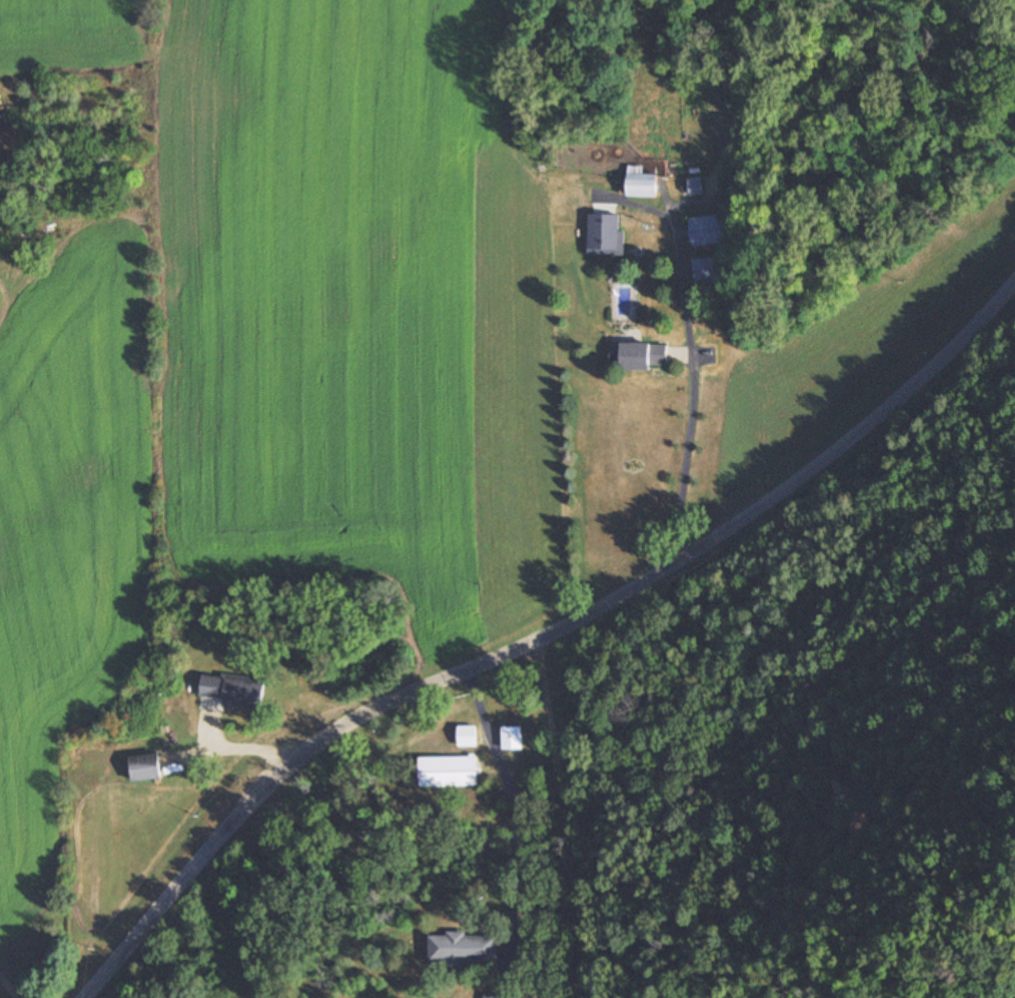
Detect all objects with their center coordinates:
building: (641, 183)
road: (637, 208)
building: (712, 229)
building: (605, 235)
building: (708, 270)
building: (639, 357)
road: (696, 372)
road: (544, 630)
building: (234, 691)
building: (468, 737)
building: (513, 738)
building: (145, 768)
building: (448, 771)
building: (489, 996)

